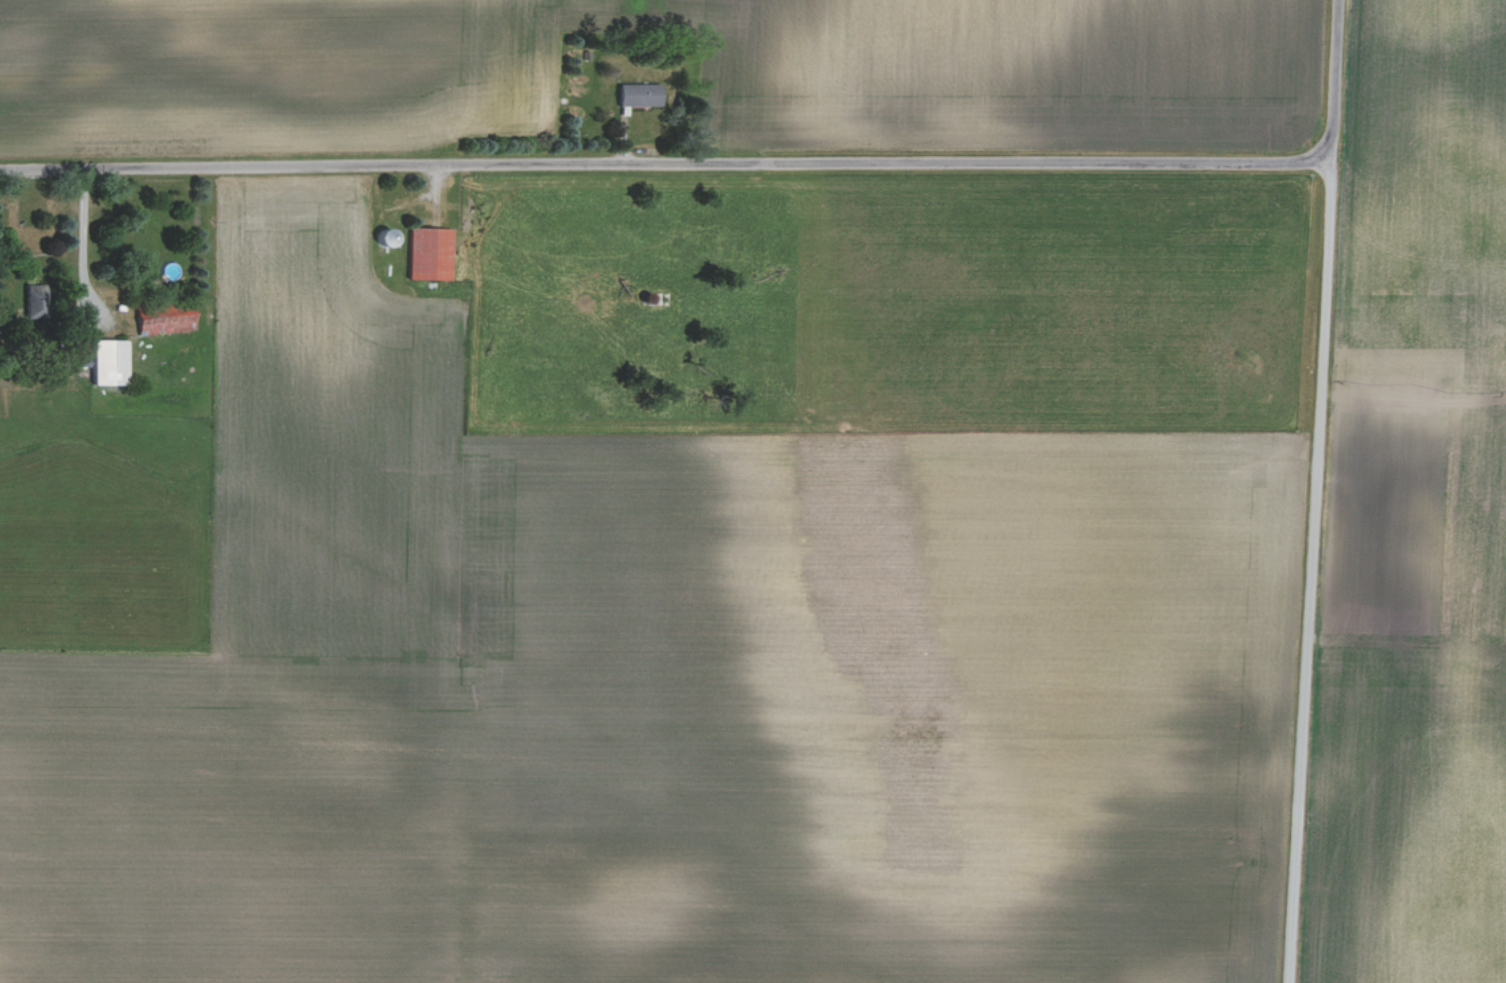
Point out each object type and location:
building: (641, 93)
road: (667, 164)
road: (82, 247)
building: (431, 253)
building: (36, 304)
building: (109, 361)
road: (1317, 491)

